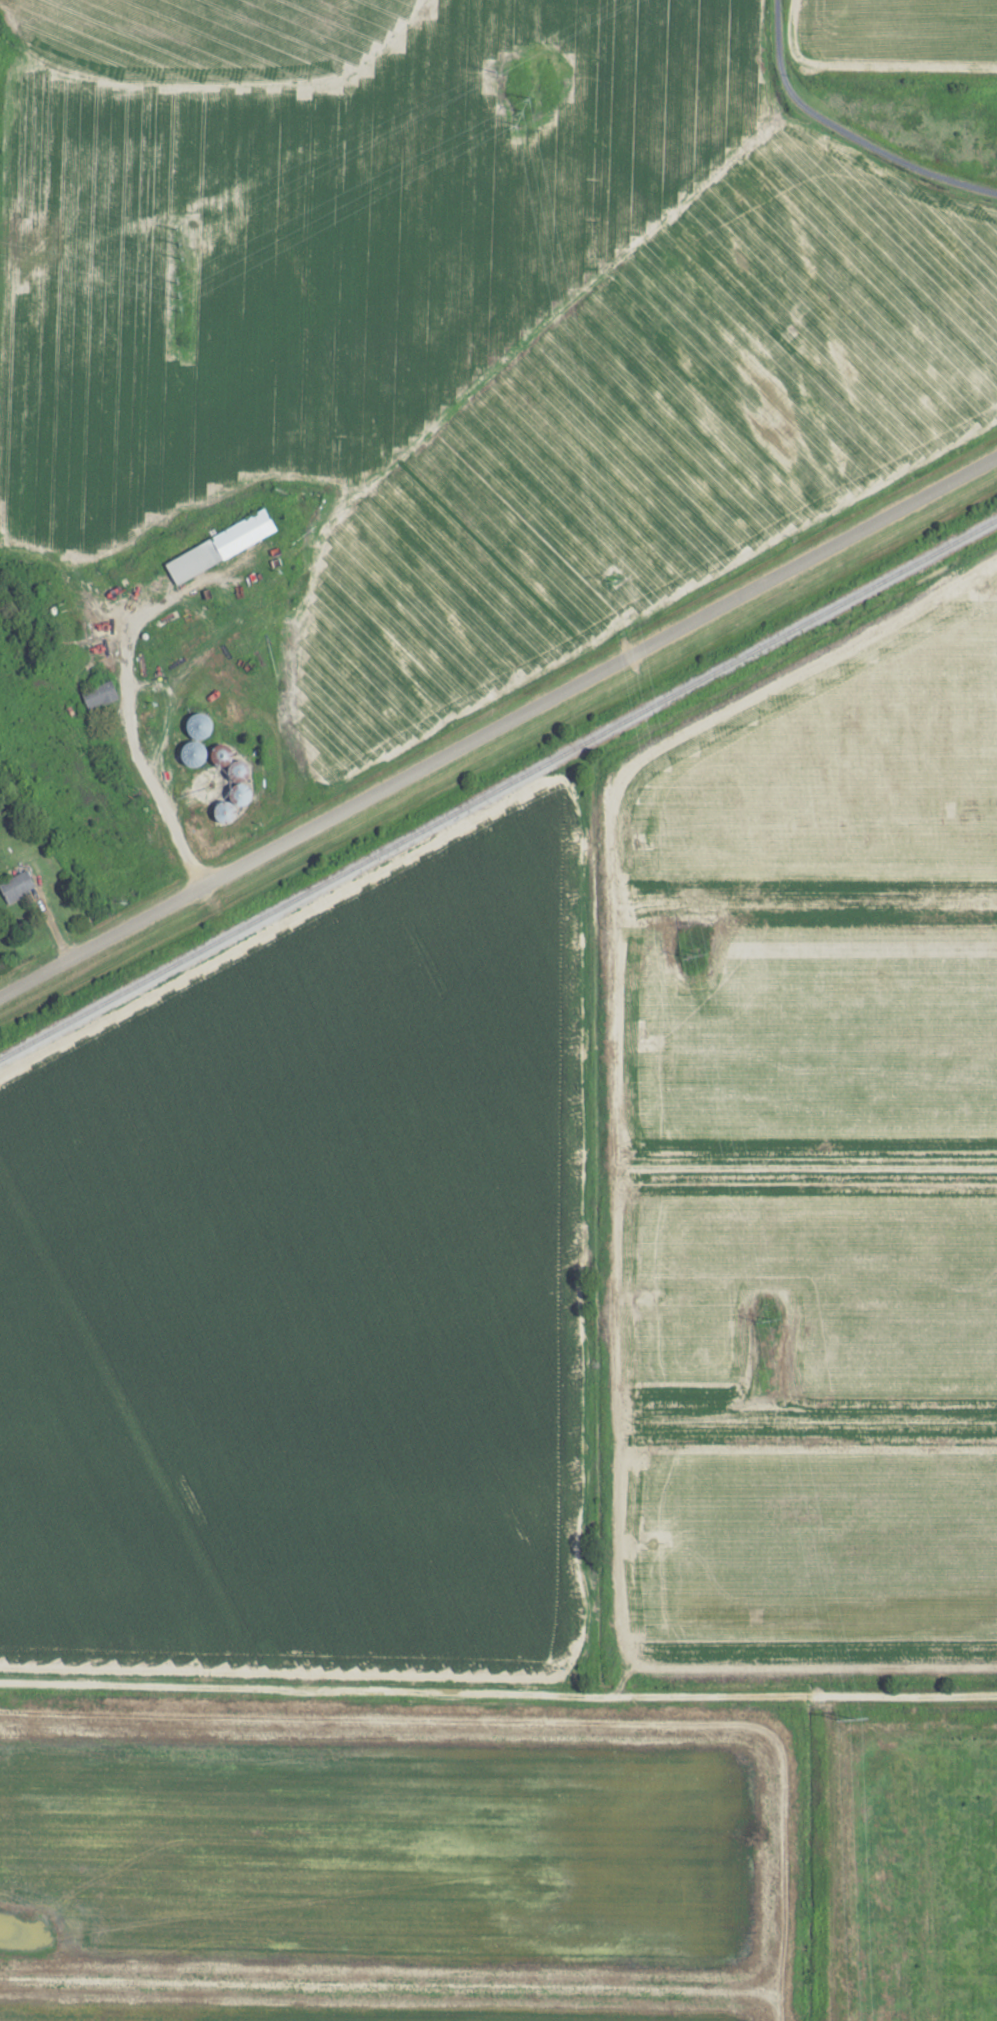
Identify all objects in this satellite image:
road: (778, 37)
power tower: (524, 109)
road: (877, 152)
power tower: (179, 294)
building: (220, 546)
power tower: (615, 579)
building: (98, 694)
building: (197, 725)
road: (497, 726)
road: (138, 753)
building: (190, 753)
building: (219, 753)
building: (237, 770)
railway: (498, 787)
building: (238, 794)
building: (224, 810)
building: (16, 886)
power tower: (694, 953)
building: (253, 1286)
crop: (310, 1290)
power tower: (765, 1317)
road: (498, 1695)
power tower: (849, 1718)

